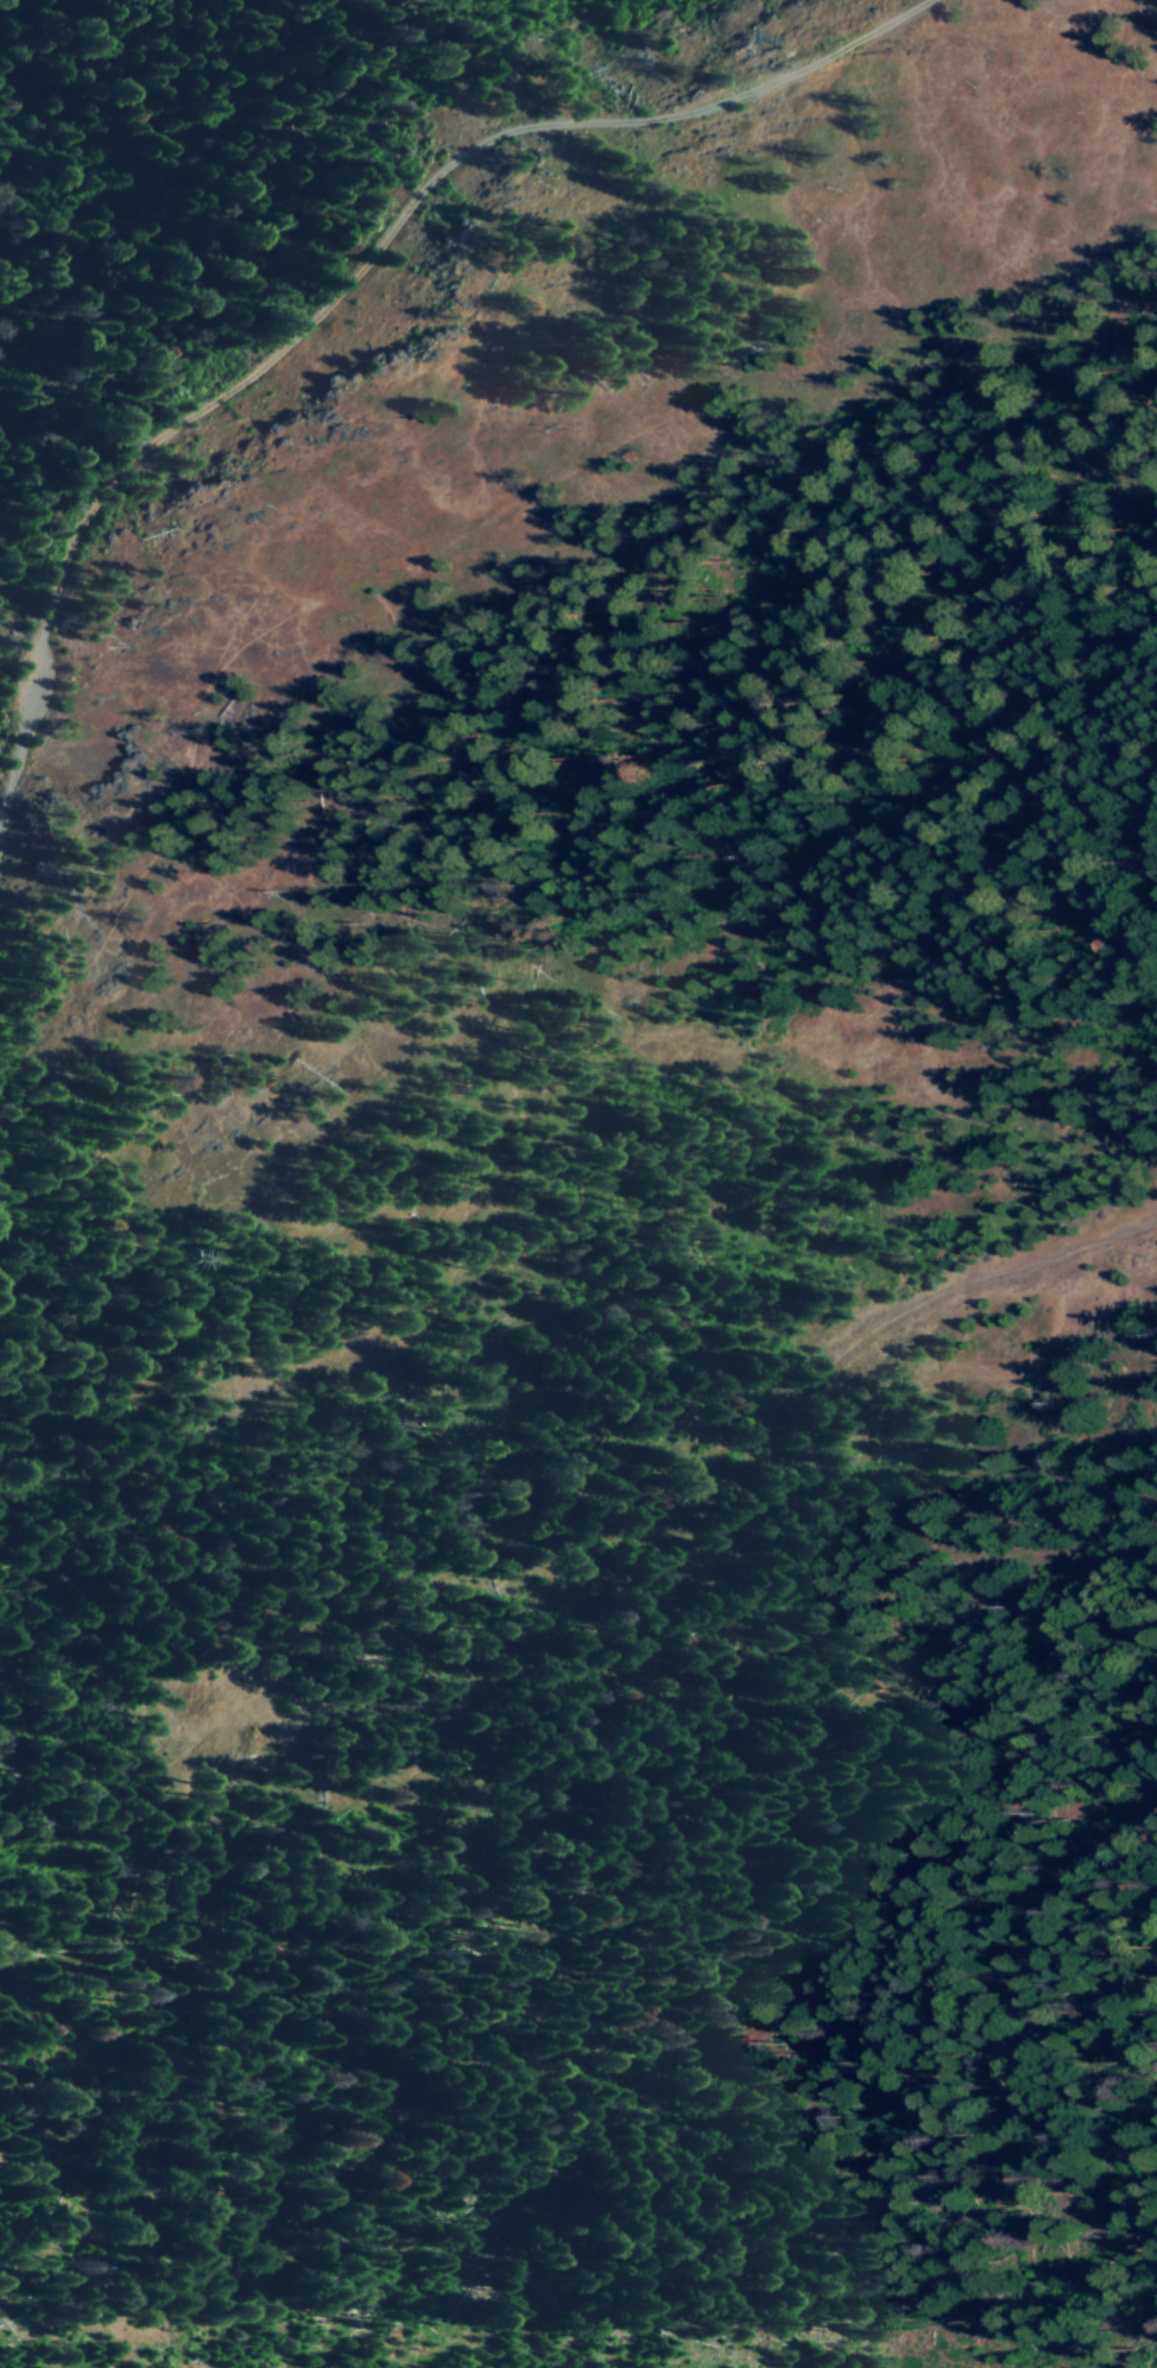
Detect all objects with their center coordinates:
road: (358, 284)
road: (995, 1279)

